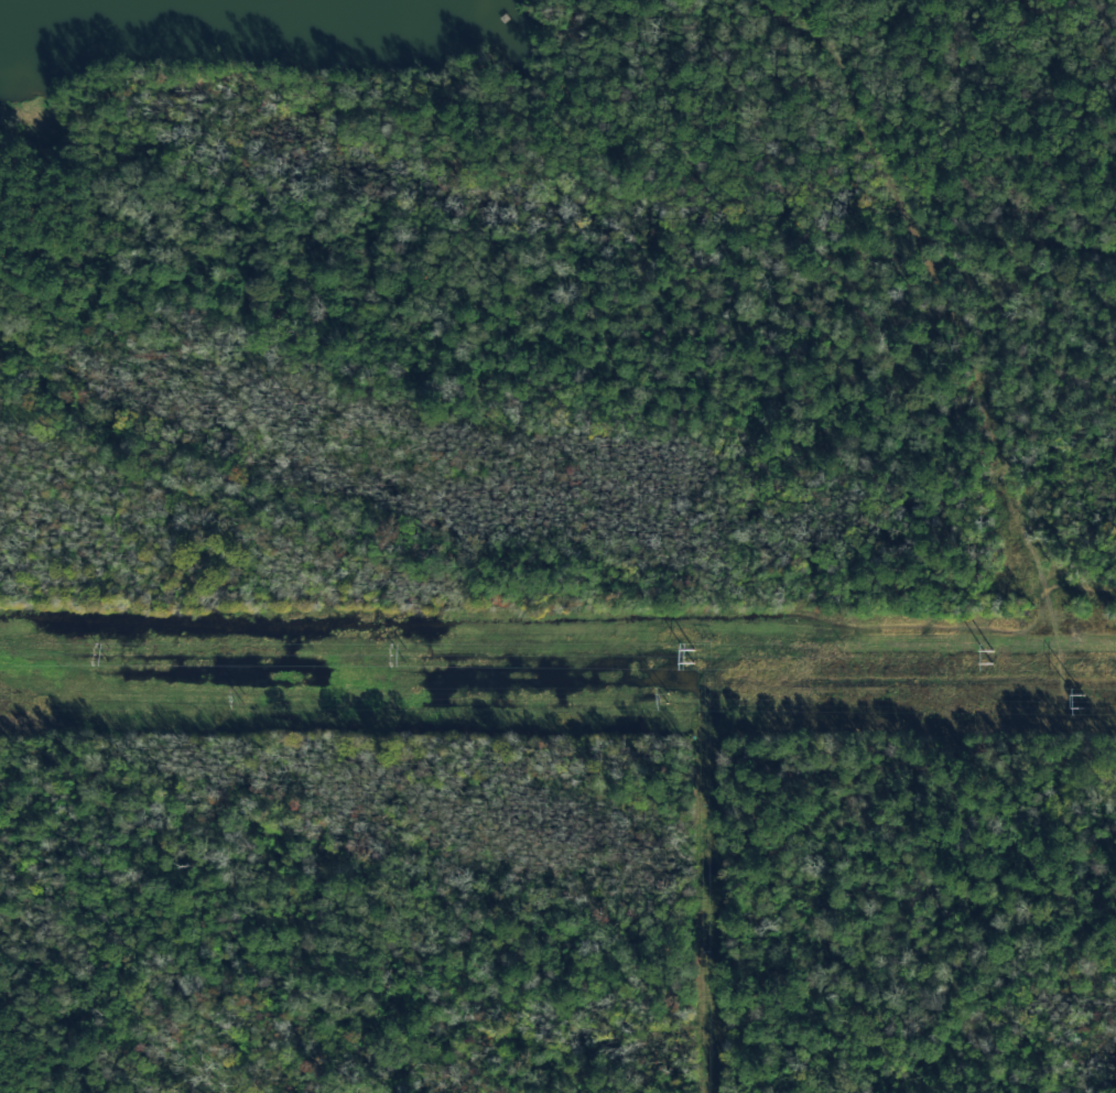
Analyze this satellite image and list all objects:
power tower: (673, 704)

